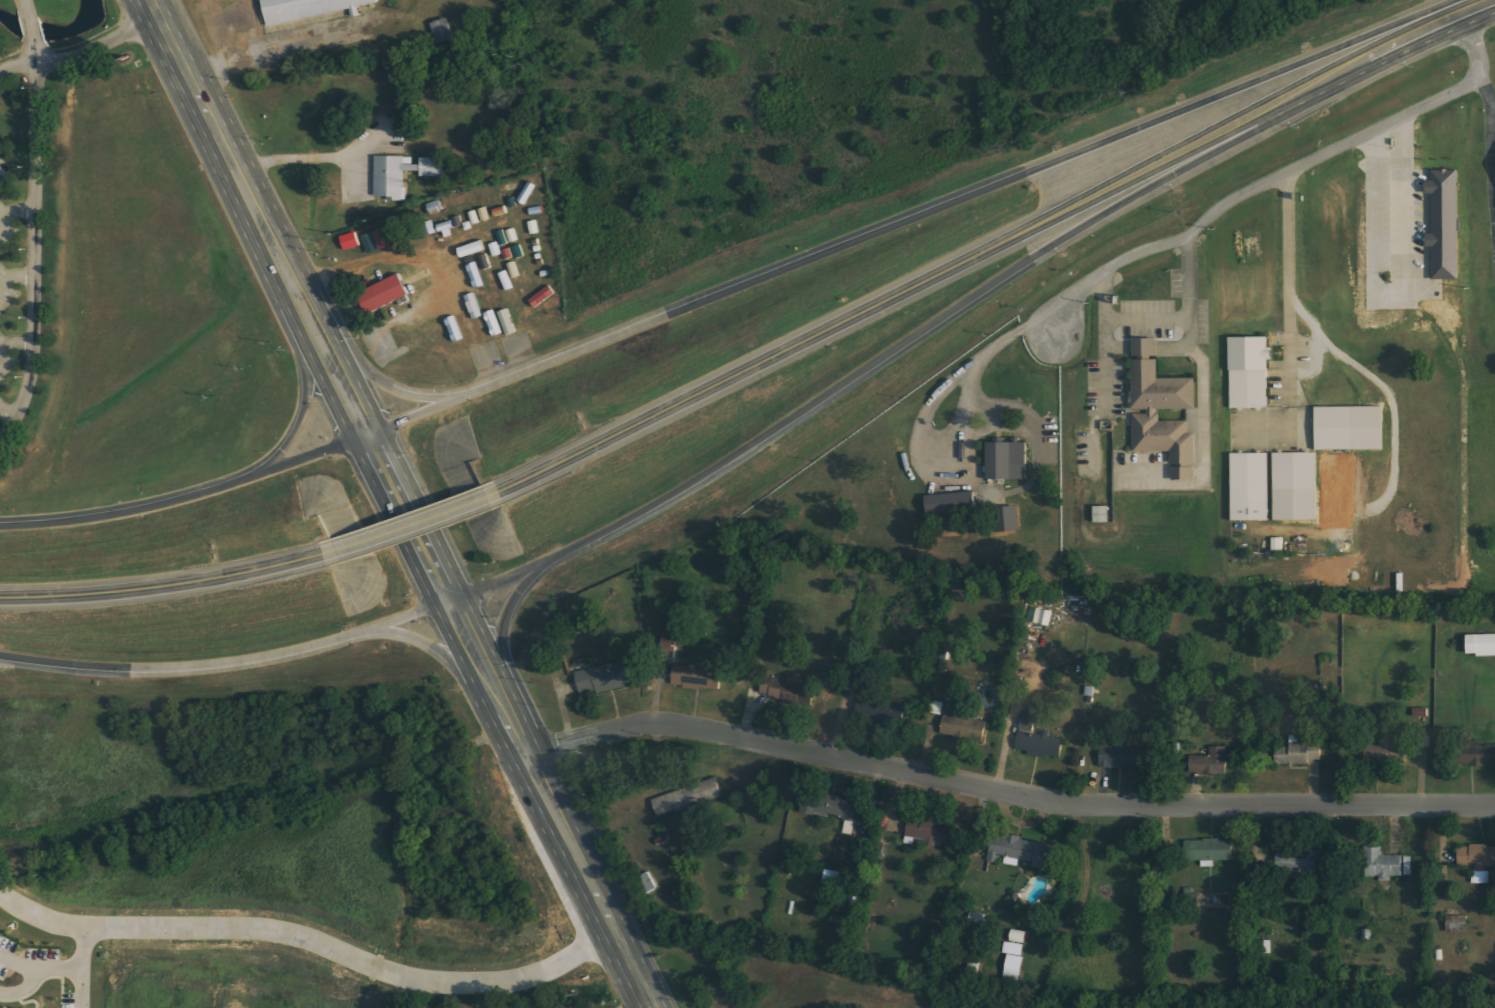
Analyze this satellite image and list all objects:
road: (1488, 2)
building: (308, 11)
road: (1441, 23)
road: (167, 39)
road: (80, 54)
building: (407, 180)
road: (1240, 196)
road: (250, 200)
road: (15, 210)
road: (924, 212)
road: (33, 224)
building: (1445, 224)
building: (504, 226)
building: (383, 239)
building: (351, 241)
building: (369, 244)
road: (948, 265)
road: (14, 277)
building: (385, 293)
building: (486, 298)
building: (496, 327)
road: (926, 328)
building: (462, 330)
road: (319, 334)
road: (13, 343)
building: (1248, 372)
road: (399, 388)
road: (349, 392)
building: (1164, 394)
road: (302, 408)
road: (7, 413)
building: (1192, 422)
building: (1349, 428)
building: (1007, 461)
building: (1249, 486)
building: (1296, 487)
road: (188, 495)
building: (952, 503)
building: (1102, 515)
road: (410, 519)
building: (1009, 520)
road: (414, 526)
building: (1278, 545)
road: (165, 587)
building: (1043, 617)
road: (504, 624)
building: (1482, 645)
road: (433, 646)
road: (470, 647)
road: (6, 661)
road: (228, 664)
building: (605, 678)
building: (697, 678)
building: (781, 684)
road: (498, 701)
building: (1419, 715)
building: (964, 725)
building: (1037, 740)
building: (1299, 753)
building: (1478, 754)
building: (1122, 757)
building: (1212, 762)
road: (535, 776)
road: (1004, 792)
building: (687, 798)
building: (833, 808)
building: (929, 832)
building: (1022, 851)
building: (1209, 851)
building: (1297, 860)
building: (1478, 861)
building: (1383, 864)
building: (1408, 865)
road: (603, 911)
building: (1456, 921)
building: (1019, 937)
road: (313, 944)
building: (1016, 949)
building: (1014, 968)
road: (87, 969)
road: (41, 972)
road: (645, 994)
building: (7, 1007)

